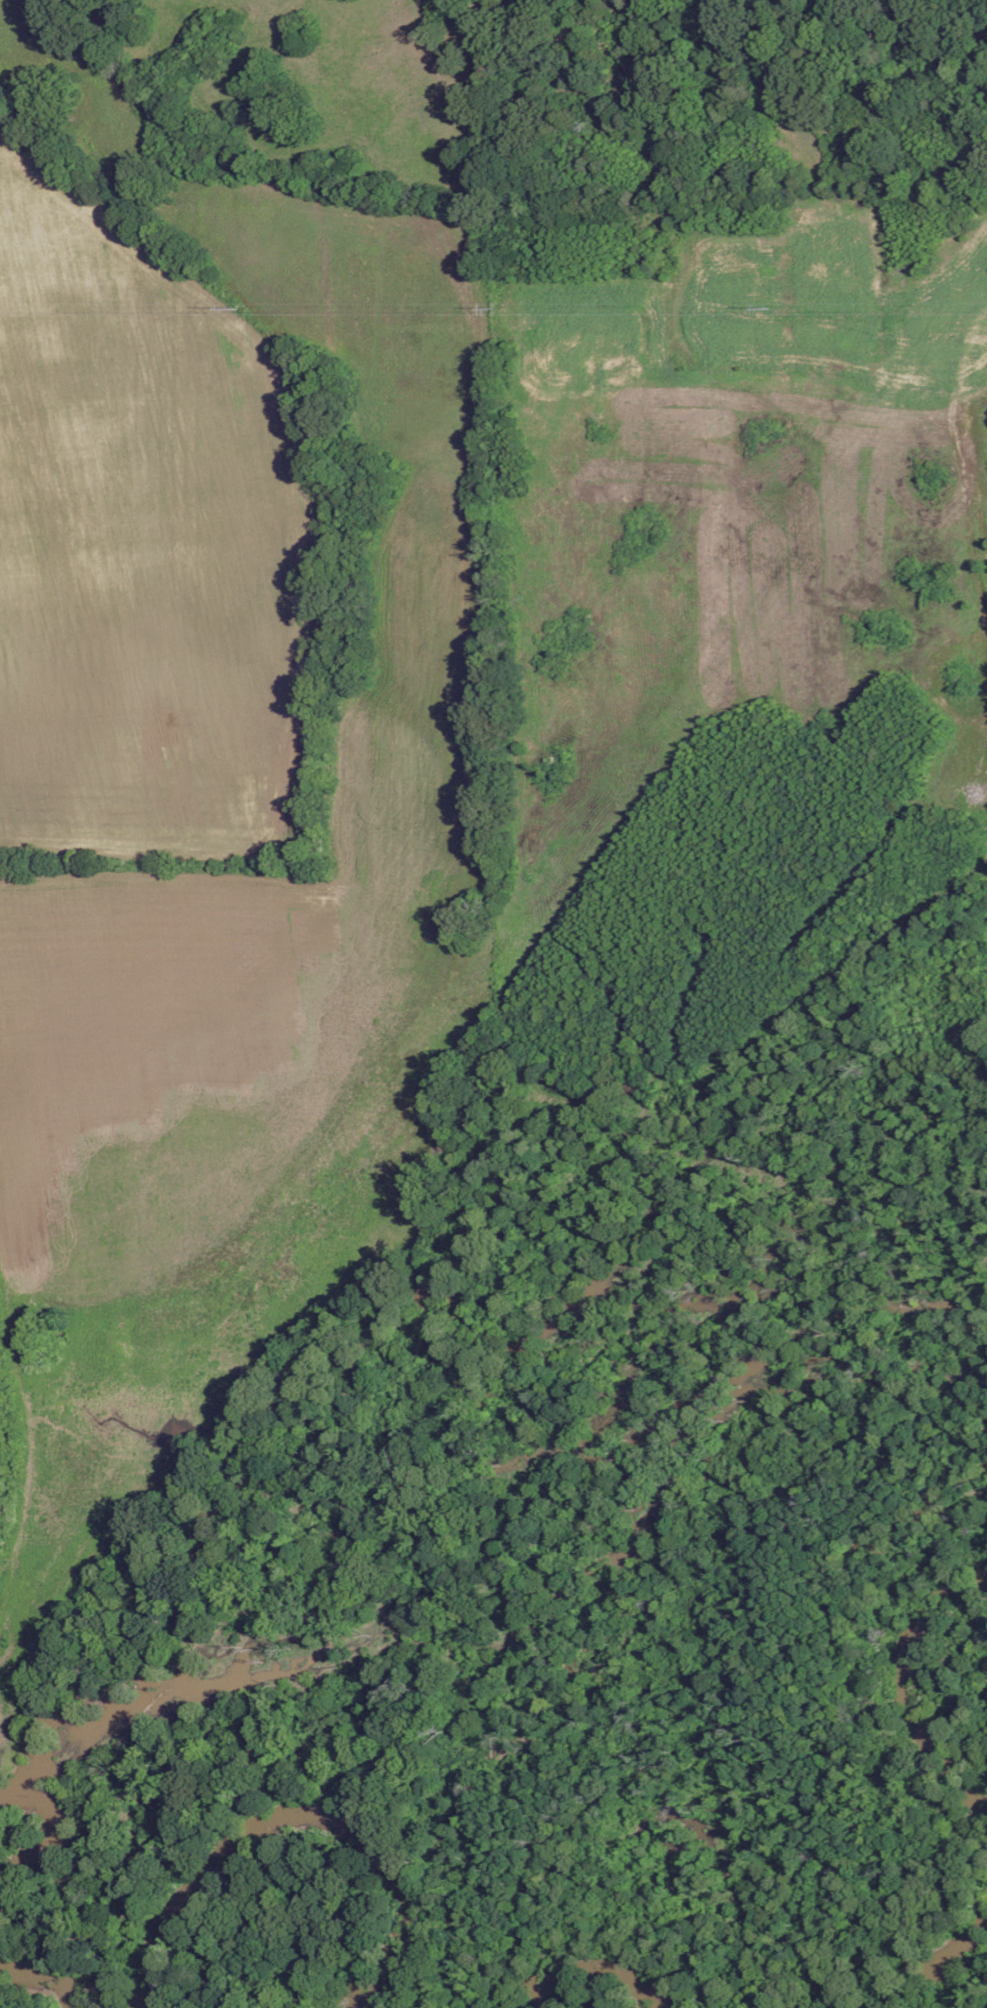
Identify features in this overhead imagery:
river: (925, 1699)
river: (306, 1812)
river: (20, 1886)
river: (605, 1964)
river: (911, 1973)

